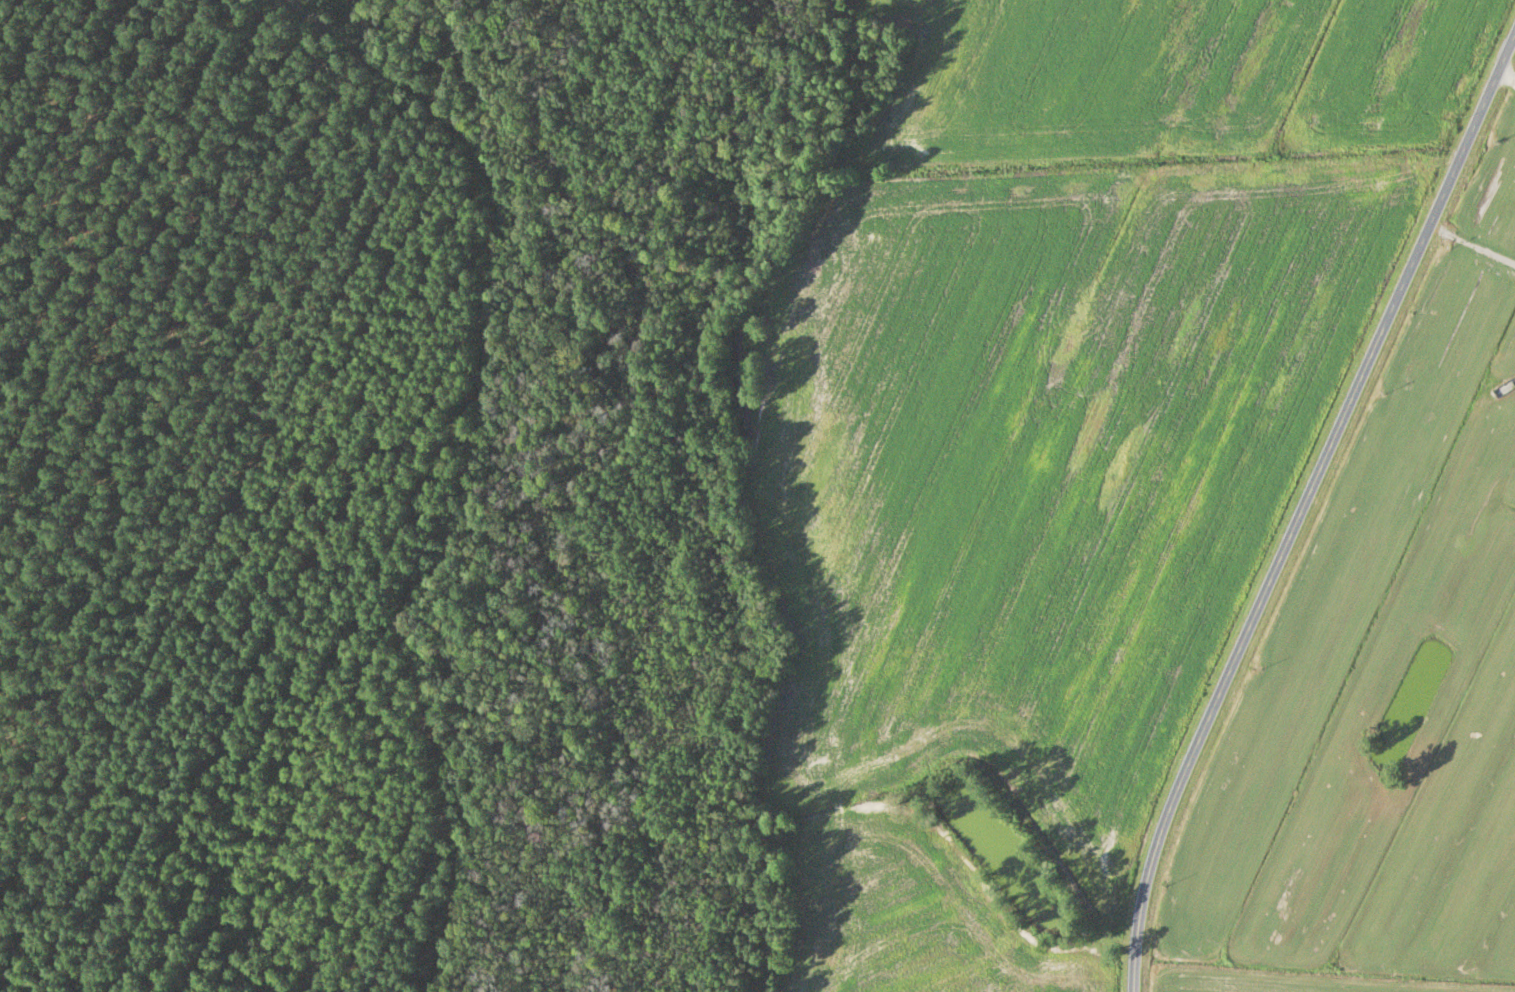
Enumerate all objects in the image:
road: (1304, 509)

